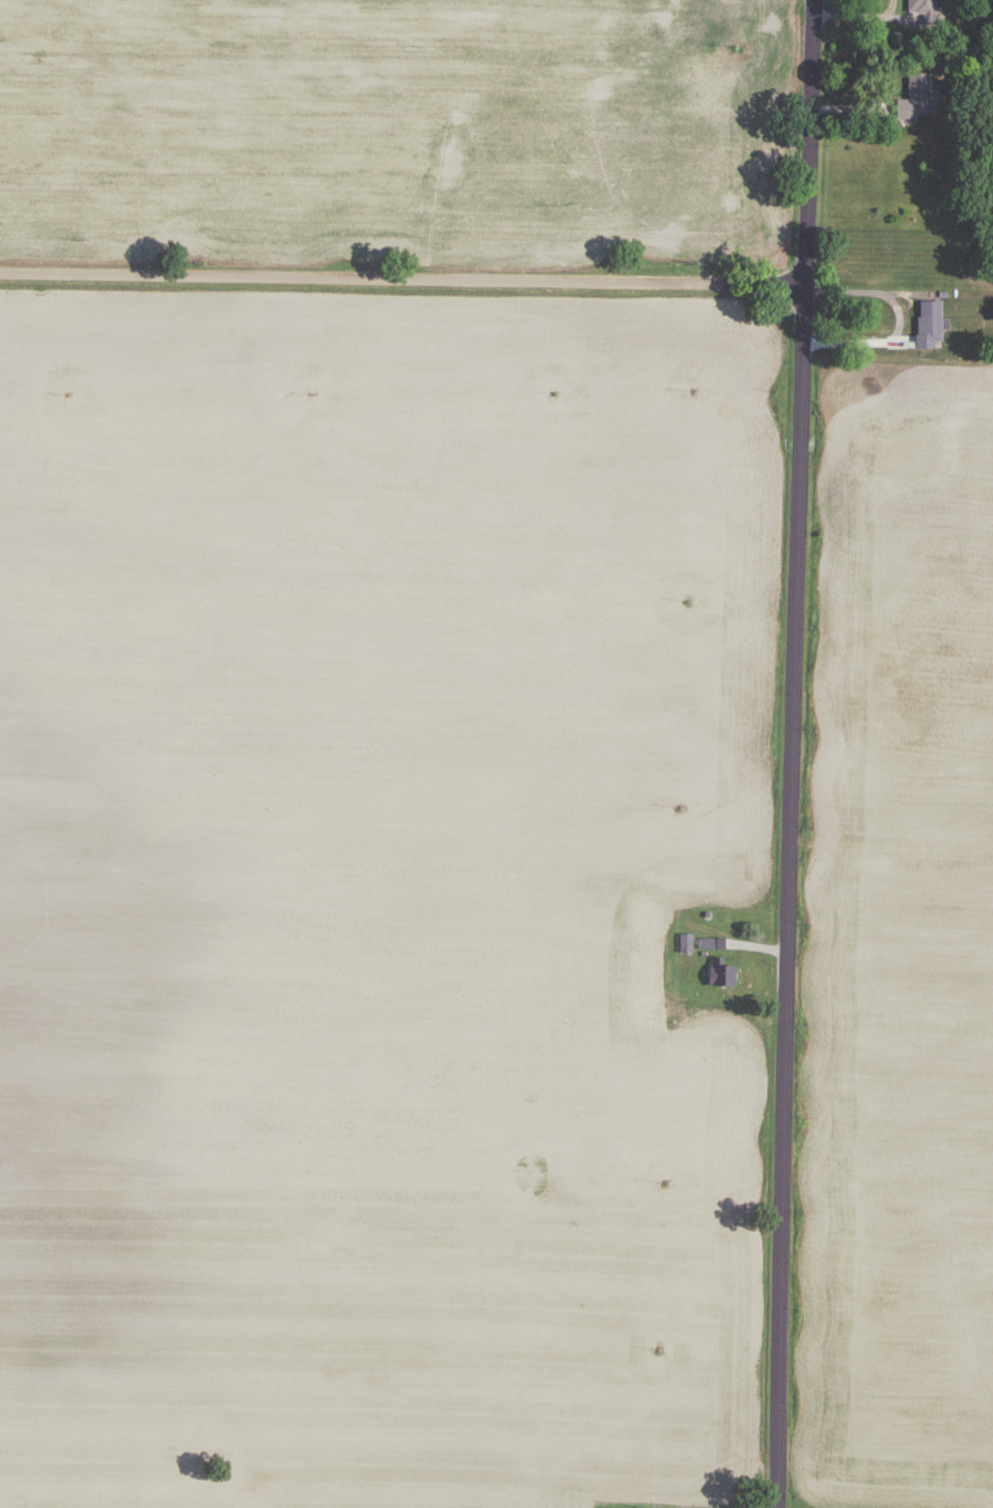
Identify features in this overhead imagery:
building: (921, 7)
road: (861, 17)
building: (674, 22)
building: (918, 93)
road: (406, 281)
building: (927, 324)
road: (796, 753)
building: (685, 943)
building: (710, 944)
building: (661, 968)
building: (719, 973)
building: (652, 1016)

